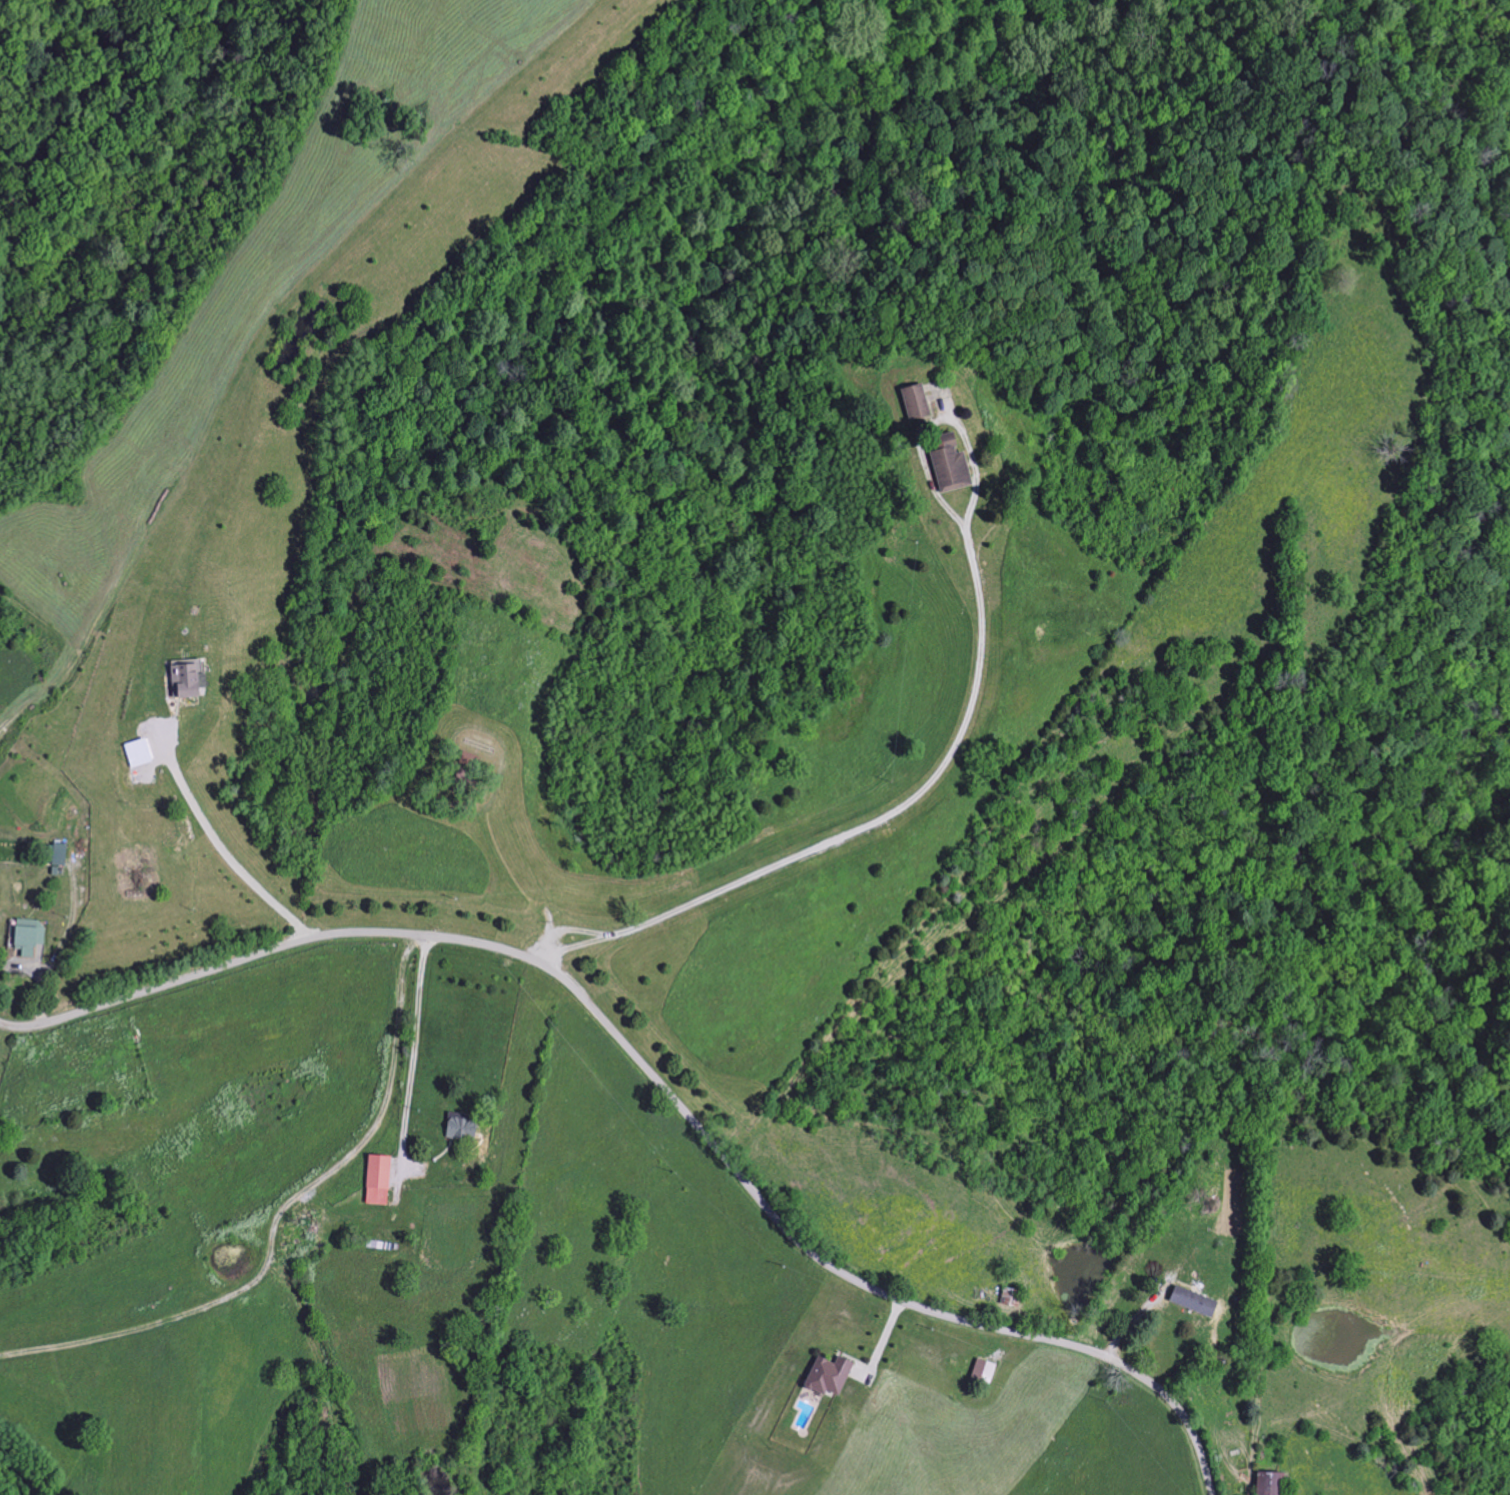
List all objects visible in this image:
building: (913, 403)
building: (946, 465)
building: (184, 678)
road: (854, 832)
road: (218, 844)
building: (56, 854)
building: (27, 940)
road: (411, 1067)
road: (657, 1084)
building: (460, 1128)
building: (376, 1180)
building: (307, 1238)
building: (1190, 1301)
building: (981, 1371)
building: (826, 1376)
building: (1267, 1484)

